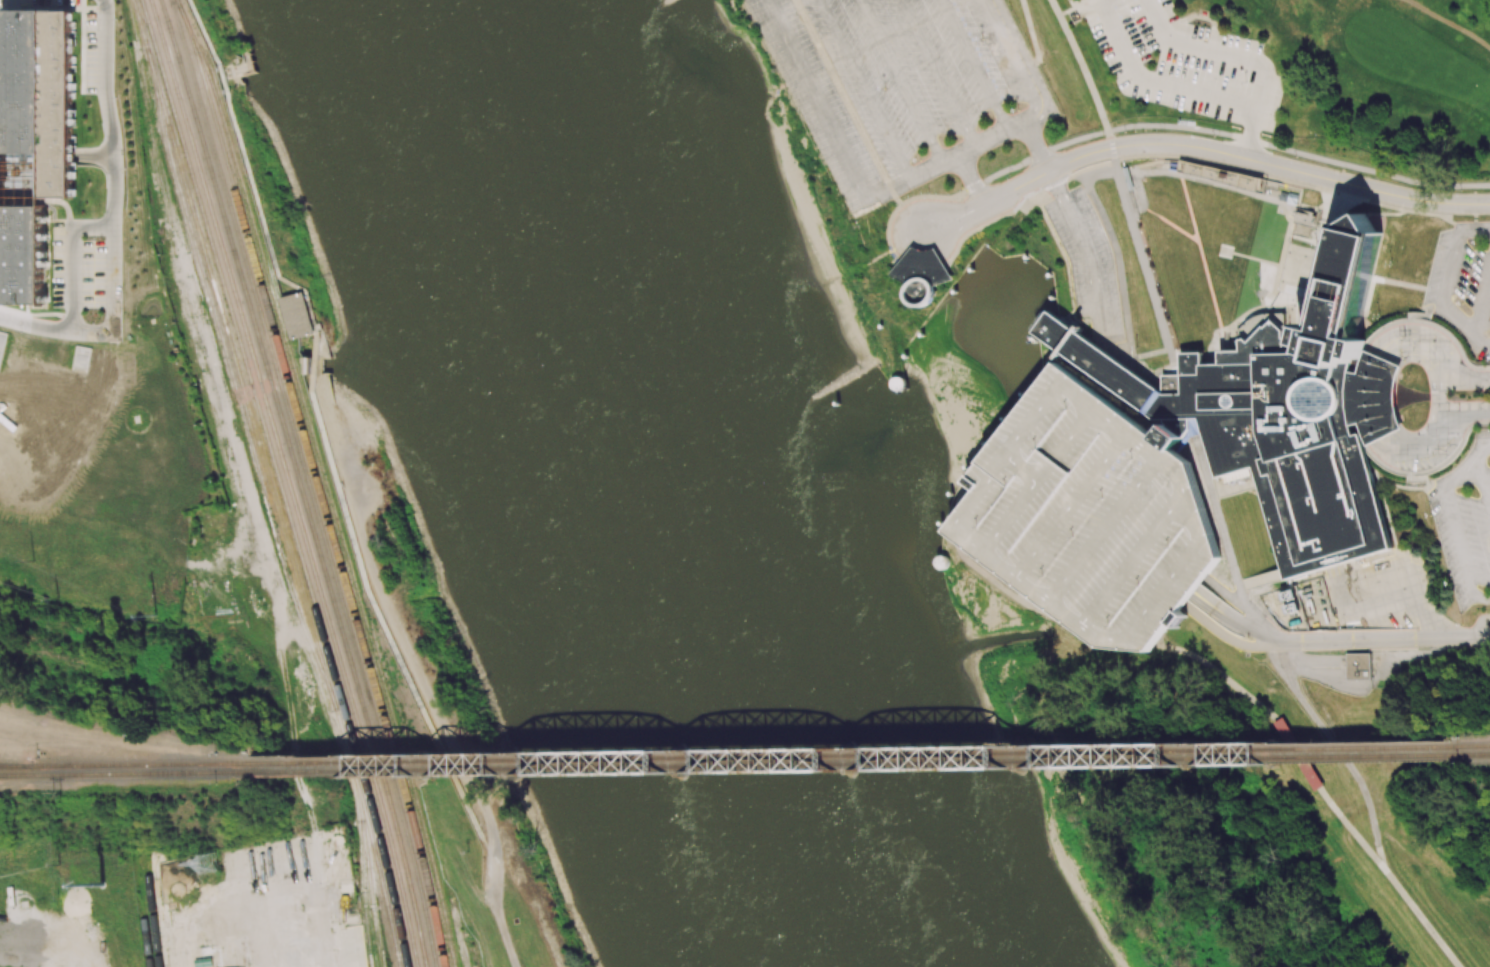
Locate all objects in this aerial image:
road: (790, 7)
road: (771, 8)
road: (1448, 23)
road: (813, 36)
road: (1034, 42)
road: (1010, 56)
parking lot: (1183, 62)
road: (974, 64)
park: (1299, 69)
road: (937, 73)
road: (900, 81)
parking lot: (903, 86)
road: (863, 89)
road: (1245, 104)
road: (821, 107)
road: (1178, 125)
street lamp: (1124, 131)
road: (1250, 132)
street lamp: (1214, 135)
road: (1032, 136)
road: (990, 137)
road: (865, 138)
building: (33, 141)
road: (1039, 152)
street lamp: (1296, 156)
road: (1268, 163)
road: (1222, 165)
road: (1084, 168)
road: (1109, 170)
road: (1368, 170)
road: (1119, 171)
road: (1066, 174)
building: (1223, 174)
road: (913, 175)
street lamp: (1378, 177)
road: (971, 179)
road: (1214, 181)
road: (1016, 186)
road: (1045, 188)
road: (1140, 188)
street lamp: (1462, 191)
road: (906, 200)
road: (1367, 200)
road: (1028, 203)
road: (1191, 208)
road: (1430, 213)
road: (1387, 214)
road: (1331, 215)
road: (115, 223)
road: (1173, 224)
road: (984, 225)
building: (1303, 226)
road: (1457, 227)
road: (1475, 231)
road: (902, 243)
road: (1086, 246)
building: (1294, 247)
road: (1117, 257)
road: (1256, 258)
road: (72, 259)
parking lot: (1087, 261)
road: (1450, 266)
building: (1295, 268)
building: (978, 269)
building: (920, 275)
road: (1382, 279)
road: (1069, 281)
parking lot: (1463, 282)
road: (1212, 284)
road: (1436, 285)
building: (1284, 288)
road: (1437, 303)
road: (1426, 305)
building: (1295, 306)
road: (1483, 310)
road: (1422, 314)
building: (297, 315)
road: (1454, 318)
road: (1432, 323)
road: (1476, 338)
building: (2, 342)
building: (924, 343)
road: (1487, 344)
building: (1359, 348)
road: (1097, 357)
building: (1049, 359)
parking lot: (1362, 359)
building: (1096, 361)
road: (1439, 361)
road: (1109, 362)
road: (1174, 362)
road: (1478, 380)
railway: (243, 381)
railway: (251, 381)
building: (897, 382)
road: (1129, 391)
road: (1438, 396)
building: (1373, 398)
road: (1376, 398)
road: (1092, 416)
building: (1296, 418)
road: (1039, 420)
road: (1448, 421)
building: (1182, 430)
road: (1131, 434)
road: (1482, 449)
road: (1456, 453)
road: (1007, 463)
road: (1382, 463)
road: (1201, 466)
road: (1028, 469)
road: (1460, 472)
road: (1050, 473)
road: (1182, 473)
road: (1372, 474)
building: (1236, 475)
road: (1419, 479)
railway: (326, 480)
road: (1483, 480)
railway: (289, 482)
railway: (299, 482)
railway: (308, 482)
river: (669, 486)
road: (1400, 486)
road: (1437, 488)
road: (1233, 490)
railway: (322, 495)
road: (1077, 507)
road: (1388, 516)
road: (1017, 517)
building: (1091, 517)
parking lot: (1091, 517)
road: (964, 521)
road: (1110, 532)
parking lot: (1465, 535)
road: (1460, 541)
road: (1224, 542)
road: (1139, 561)
building: (942, 562)
road: (970, 564)
road: (1006, 566)
road: (1380, 570)
road: (1261, 580)
road: (1409, 583)
road: (1335, 586)
road: (1169, 590)
road: (1039, 591)
road: (1386, 593)
road: (1228, 595)
road: (1481, 599)
road: (1243, 600)
road: (1379, 610)
road: (1072, 615)
power tower: (156, 616)
road: (1432, 621)
road: (1234, 622)
road: (1478, 624)
road: (1264, 627)
road: (1227, 637)
road: (1383, 640)
road: (1280, 648)
road: (1405, 657)
building: (1358, 668)
road: (1321, 676)
road: (1300, 698)
power tower: (62, 712)
railway: (1468, 744)
railway: (852, 752)
railway: (1468, 753)
railway: (852, 761)
railway: (142, 764)
railway: (12, 765)
railway: (12, 766)
railway: (129, 773)
power tower: (69, 795)
power tower: (108, 859)
power tower: (210, 863)
railway: (388, 864)
railway: (363, 865)
railway: (379, 868)
road: (1389, 877)
railway: (371, 894)
railway: (144, 909)
railway: (153, 909)
railway: (458, 934)
railway: (472, 955)

